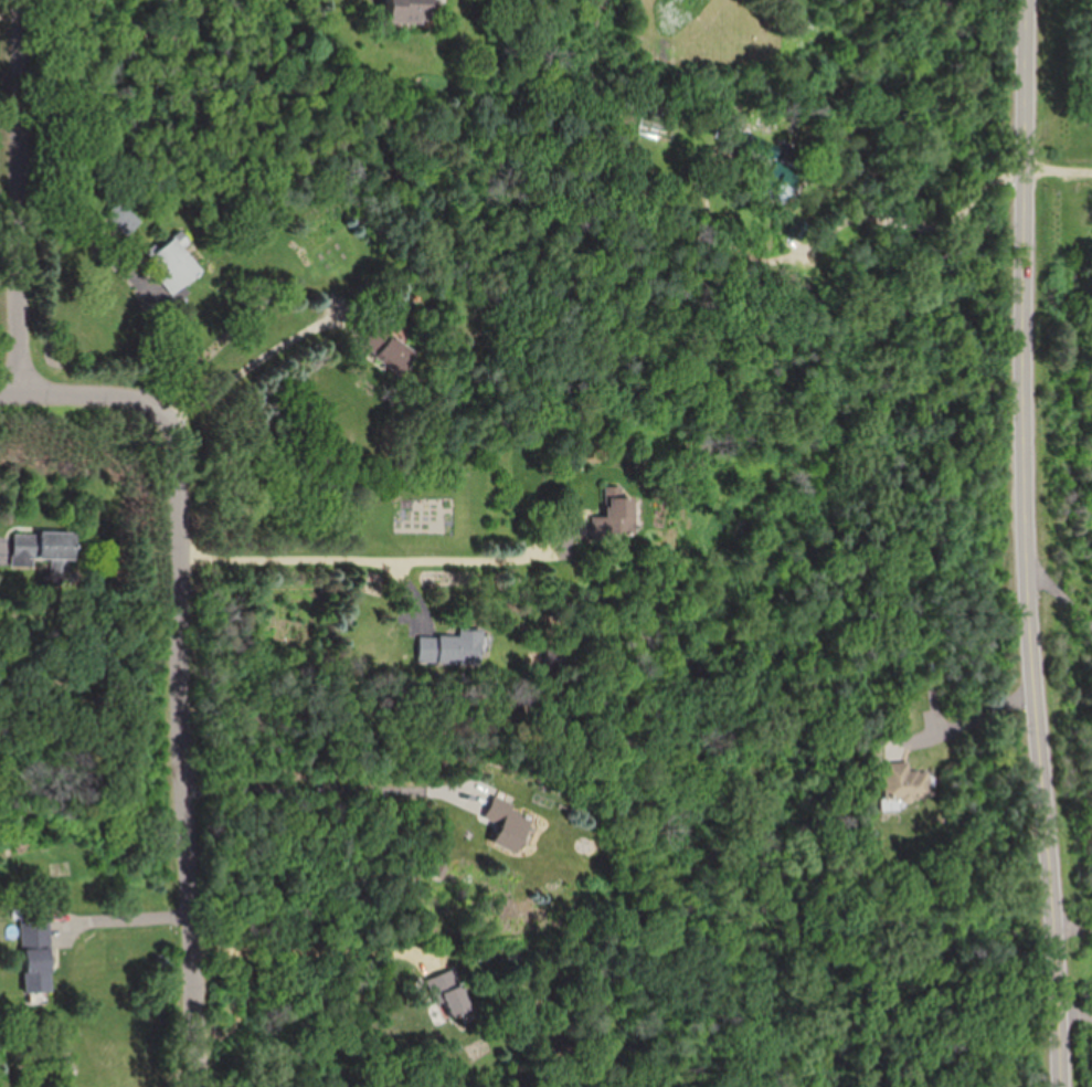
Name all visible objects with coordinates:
building: (411, 11)
building: (781, 187)
road: (20, 200)
road: (930, 207)
building: (125, 219)
building: (176, 265)
building: (396, 357)
road: (266, 360)
road: (94, 401)
building: (616, 511)
road: (1032, 543)
building: (44, 546)
road: (1, 551)
road: (394, 563)
road: (1062, 598)
building: (453, 650)
road: (990, 710)
road: (191, 752)
building: (903, 781)
road: (336, 782)
building: (507, 825)
road: (121, 919)
road: (1075, 935)
road: (306, 944)
building: (39, 958)
building: (449, 995)
road: (1077, 1015)

